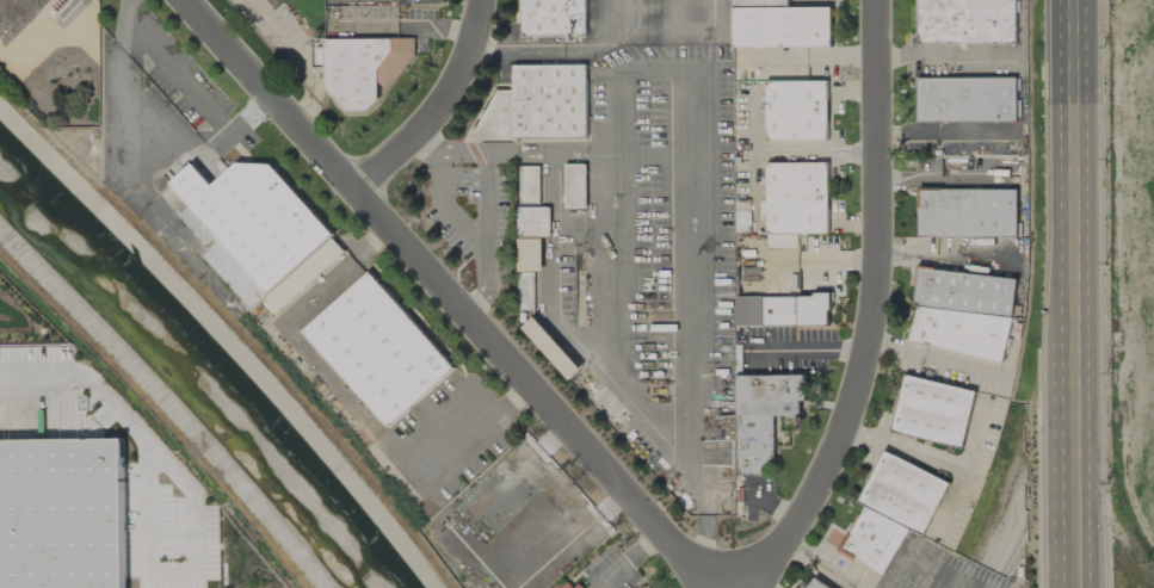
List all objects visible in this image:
building: (554, 18)
building: (964, 21)
building: (779, 25)
road: (279, 30)
building: (317, 51)
road: (943, 55)
road: (810, 56)
wastewater plant: (53, 58)
road: (190, 86)
building: (967, 100)
building: (538, 104)
road: (436, 110)
building: (796, 111)
road: (936, 135)
road: (427, 143)
road: (814, 153)
road: (687, 166)
road: (939, 178)
road: (1073, 181)
building: (529, 184)
building: (575, 186)
building: (795, 202)
building: (967, 212)
building: (253, 218)
building: (533, 222)
road: (467, 239)
building: (749, 248)
road: (940, 254)
building: (527, 271)
building: (304, 274)
road: (1043, 293)
road: (1099, 293)
road: (446, 298)
building: (796, 310)
building: (962, 312)
road: (869, 314)
road: (566, 333)
road: (809, 347)
building: (378, 349)
road: (930, 359)
road: (350, 407)
building: (932, 411)
building: (763, 416)
road: (141, 432)
road: (933, 454)
road: (1075, 476)
road: (948, 499)
building: (891, 510)
building: (61, 514)
road: (629, 562)
road: (822, 564)
building: (814, 584)
building: (566, 586)
road: (714, 586)

